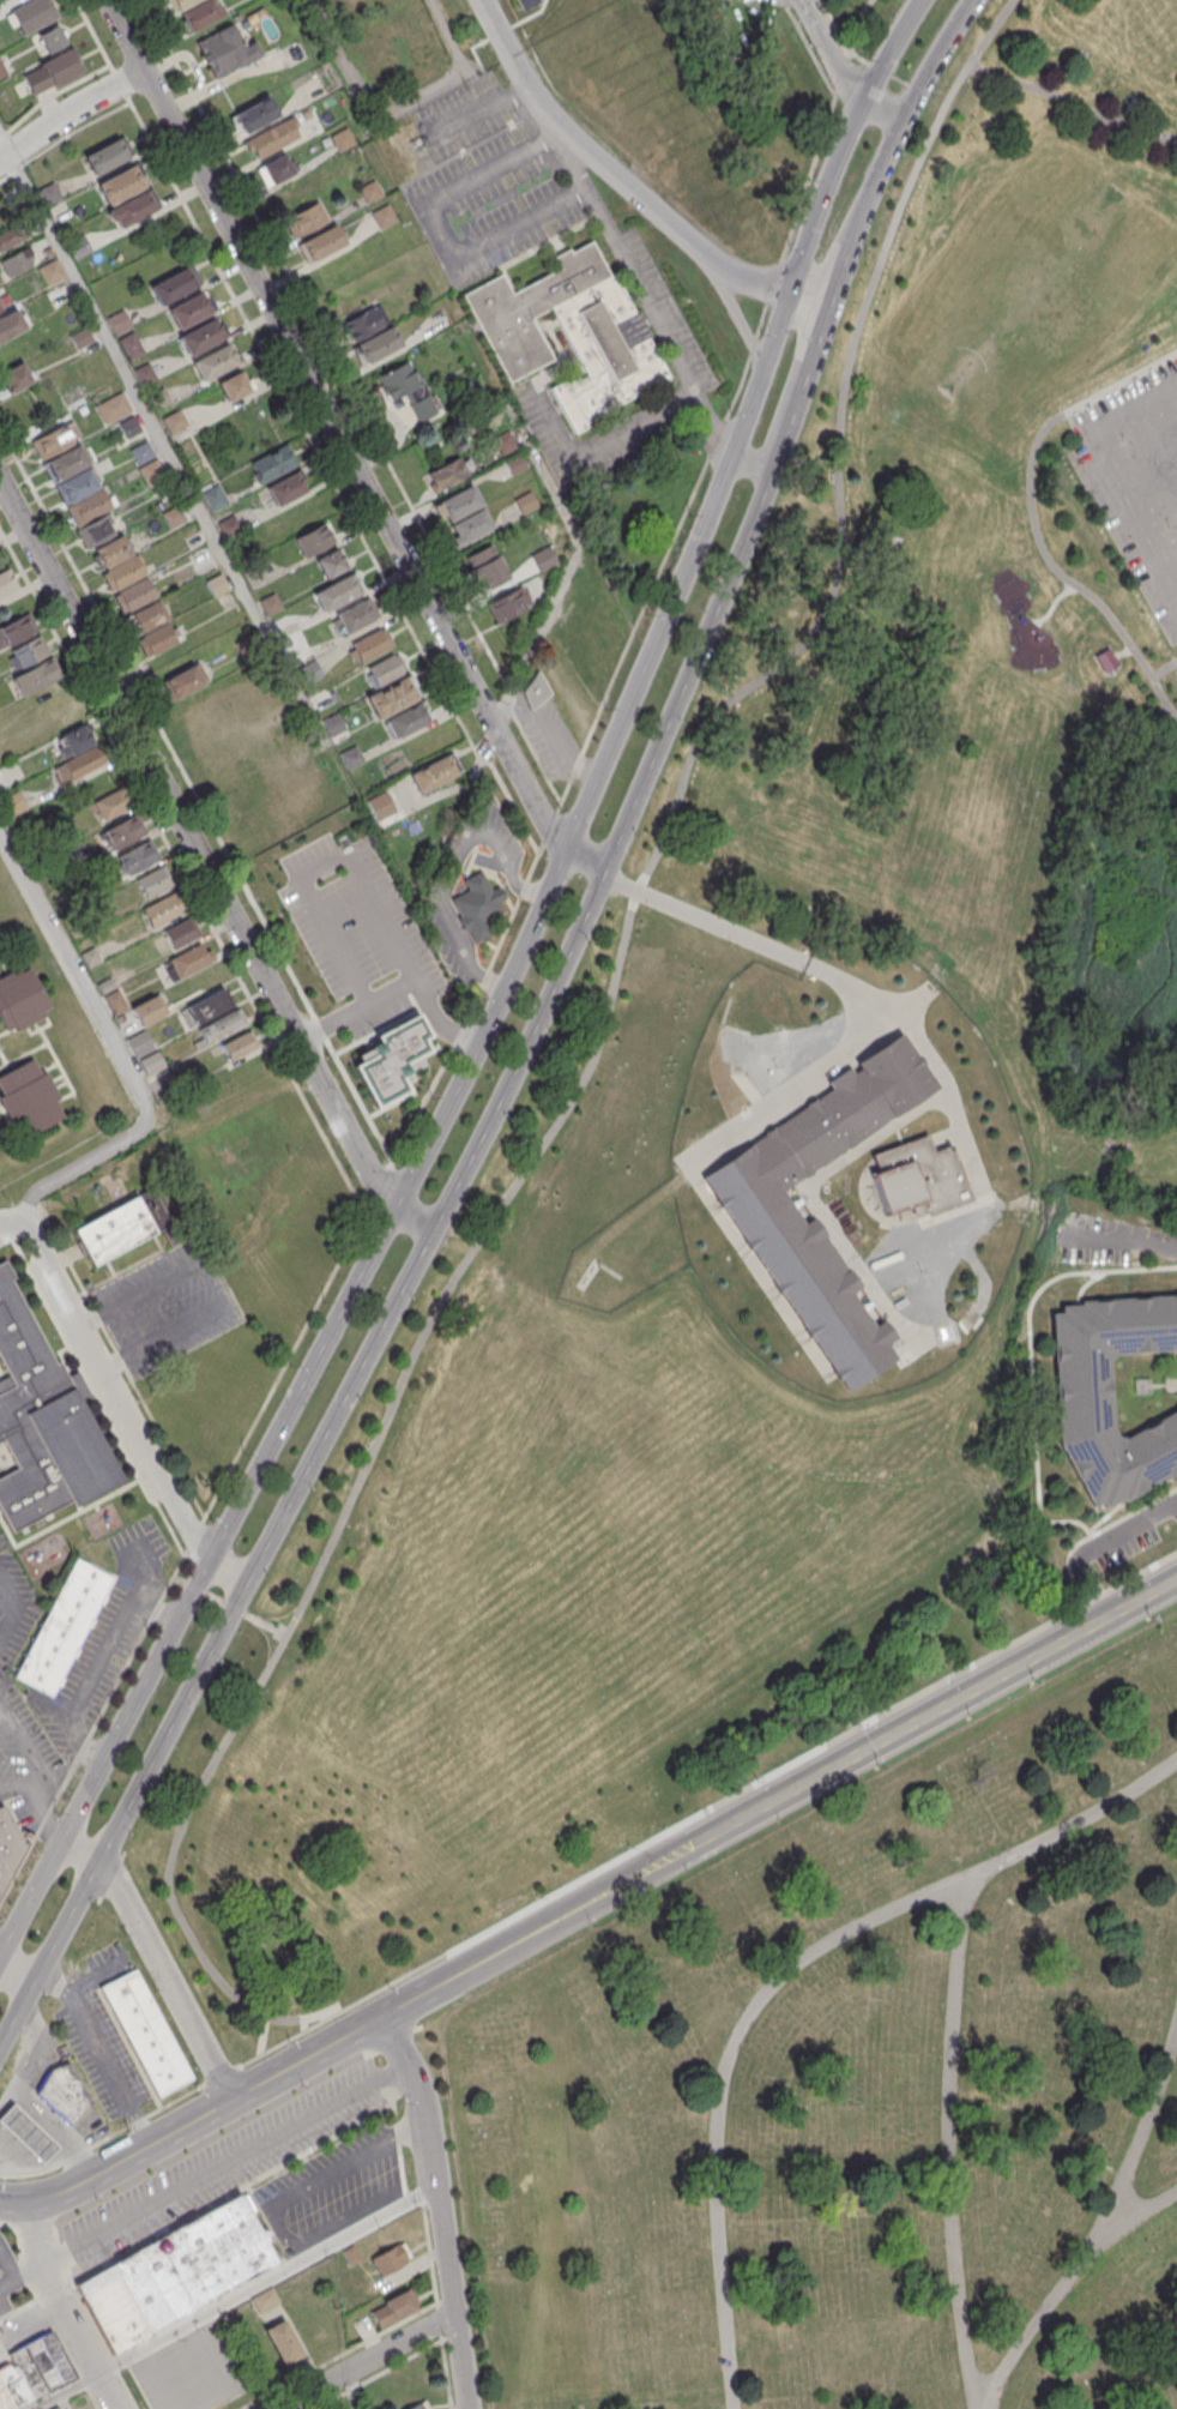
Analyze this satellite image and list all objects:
building: (525, 4)
building: (197, 12)
building: (34, 14)
park: (1155, 14)
park: (853, 18)
building: (53, 37)
building: (227, 50)
building: (1, 70)
road: (838, 71)
building: (52, 72)
road: (1072, 107)
road: (70, 110)
road: (481, 112)
building: (254, 115)
road: (557, 132)
road: (845, 137)
building: (273, 138)
building: (342, 139)
road: (553, 140)
building: (105, 155)
building: (276, 170)
road: (611, 170)
building: (120, 185)
building: (369, 191)
building: (134, 207)
building: (384, 216)
building: (307, 219)
building: (321, 243)
building: (173, 285)
road: (810, 290)
park: (1028, 294)
road: (730, 305)
building: (188, 309)
building: (0, 315)
building: (11, 327)
building: (571, 332)
building: (373, 333)
building: (200, 336)
building: (80, 337)
building: (213, 362)
road: (132, 381)
building: (233, 385)
road: (1175, 386)
building: (406, 389)
building: (159, 397)
building: (174, 420)
road: (332, 424)
building: (129, 426)
road: (606, 442)
building: (141, 451)
road: (1153, 451)
building: (273, 462)
road: (749, 462)
building: (65, 463)
building: (151, 470)
road: (1105, 472)
building: (448, 475)
parking lot: (1136, 481)
building: (78, 483)
building: (285, 489)
building: (91, 505)
building: (520, 506)
building: (464, 516)
road: (1032, 522)
building: (93, 531)
building: (313, 540)
building: (111, 549)
building: (331, 562)
building: (125, 572)
building: (6, 580)
building: (137, 592)
building: (337, 592)
building: (499, 592)
road: (1054, 603)
building: (147, 615)
building: (354, 616)
building: (19, 628)
building: (157, 639)
building: (370, 644)
building: (30, 651)
road: (1163, 668)
building: (384, 670)
building: (36, 676)
building: (183, 681)
building: (535, 691)
building: (391, 697)
building: (405, 719)
building: (333, 725)
building: (78, 765)
building: (434, 773)
road: (551, 784)
building: (16, 802)
building: (109, 806)
building: (381, 806)
building: (122, 832)
road: (193, 848)
road: (586, 854)
building: (137, 857)
road: (455, 863)
building: (153, 881)
road: (529, 887)
road: (373, 892)
building: (478, 907)
building: (163, 910)
road: (505, 929)
building: (180, 933)
road: (795, 958)
building: (187, 962)
road: (482, 980)
building: (20, 998)
building: (115, 1001)
building: (205, 1007)
building: (146, 1011)
building: (221, 1026)
road: (527, 1040)
building: (139, 1043)
building: (237, 1046)
road: (117, 1054)
building: (393, 1060)
building: (152, 1064)
road: (584, 1076)
building: (28, 1096)
park: (772, 1116)
road: (430, 1133)
wastewater plant: (832, 1178)
building: (917, 1179)
road: (412, 1218)
building: (126, 1228)
road: (1128, 1242)
building: (802, 1269)
road: (213, 1282)
building: (1110, 1395)
road: (121, 1404)
building: (44, 1425)
road: (1099, 1547)
road: (228, 1607)
road: (17, 1609)
building: (65, 1627)
road: (93, 1664)
road: (1, 1710)
road: (935, 1711)
road: (37, 1777)
road: (13, 1793)
building: (11, 1845)
building: (2, 1893)
road: (562, 1916)
road: (157, 1959)
road: (89, 1971)
road: (16, 1974)
road: (783, 1976)
building: (146, 2031)
road: (262, 2037)
road: (32, 2053)
road: (98, 2053)
building: (65, 2092)
park: (858, 2094)
road: (234, 2096)
road: (52, 2124)
building: (26, 2136)
road: (59, 2140)
road: (1139, 2142)
road: (952, 2143)
road: (44, 2152)
road: (18, 2160)
road: (223, 2167)
road: (324, 2173)
road: (17, 2202)
road: (439, 2208)
road: (349, 2217)
road: (37, 2234)
road: (300, 2253)
building: (390, 2257)
building: (176, 2274)
road: (19, 2277)
road: (265, 2281)
road: (1066, 2285)
building: (392, 2308)
road: (76, 2338)
building: (283, 2343)
road: (363, 2361)
building: (34, 2373)
road: (350, 2390)
road: (65, 2391)
building: (420, 2407)

